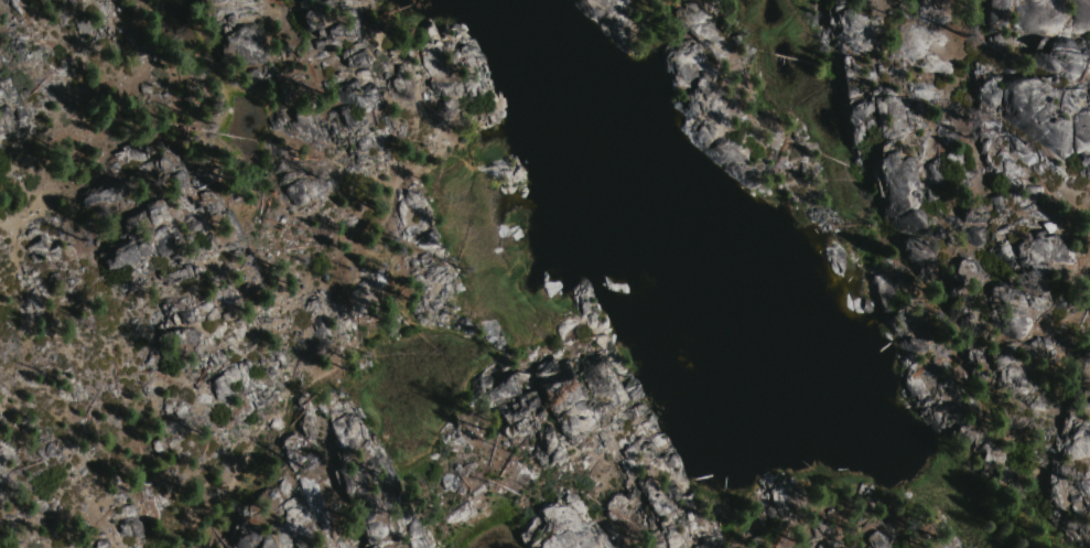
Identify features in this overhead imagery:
road: (339, 282)

